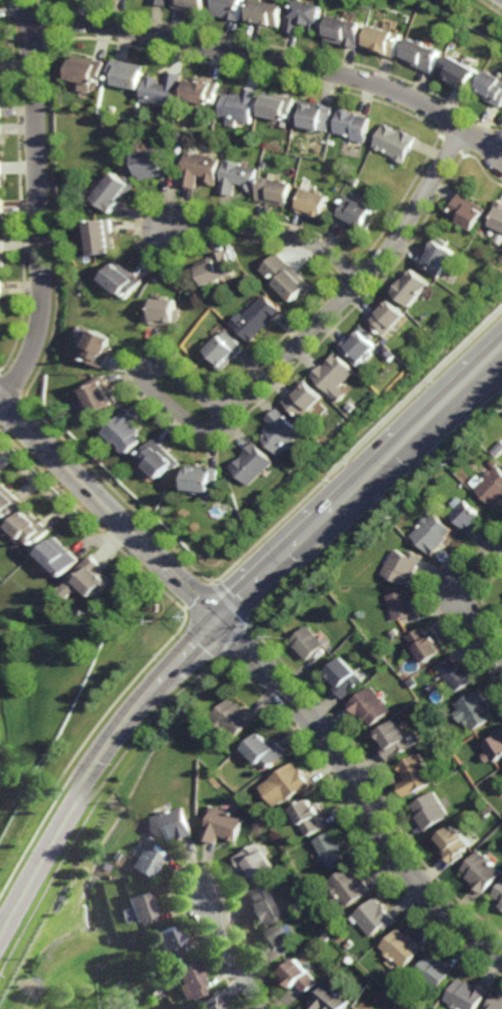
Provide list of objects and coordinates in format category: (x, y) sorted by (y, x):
building: (160, 2)
building: (190, 5)
building: (229, 9)
building: (266, 13)
building: (306, 17)
building: (347, 32)
building: (387, 42)
building: (425, 56)
road: (273, 60)
building: (86, 71)
building: (0, 73)
building: (462, 73)
building: (126, 75)
building: (492, 90)
building: (162, 91)
building: (200, 92)
building: (0, 104)
building: (238, 106)
building: (277, 107)
building: (112, 111)
building: (315, 117)
building: (353, 126)
building: (0, 132)
building: (179, 139)
building: (396, 144)
building: (153, 166)
building: (199, 171)
building: (237, 179)
building: (2, 180)
building: (355, 181)
building: (274, 193)
building: (115, 195)
road: (40, 205)
building: (313, 205)
building: (468, 213)
building: (355, 215)
building: (496, 217)
building: (2, 220)
road: (268, 232)
building: (103, 241)
building: (499, 241)
building: (437, 258)
building: (2, 260)
building: (213, 271)
building: (286, 279)
building: (245, 280)
building: (122, 284)
road: (357, 284)
building: (412, 291)
building: (1, 300)
building: (161, 312)
building: (385, 317)
building: (255, 318)
building: (98, 344)
building: (358, 345)
building: (222, 347)
building: (389, 355)
building: (333, 374)
road: (150, 386)
building: (101, 392)
building: (301, 398)
building: (350, 406)
building: (125, 429)
building: (279, 430)
building: (498, 449)
building: (156, 456)
building: (251, 463)
building: (493, 463)
building: (200, 477)
building: (461, 484)
building: (220, 487)
building: (492, 487)
building: (9, 500)
road: (62, 502)
road: (108, 508)
building: (465, 515)
building: (32, 526)
building: (433, 532)
building: (60, 555)
building: (403, 565)
building: (88, 579)
road: (465, 602)
building: (403, 604)
road: (220, 613)
traffic signals: (216, 618)
building: (306, 643)
building: (426, 646)
building: (457, 674)
building: (343, 677)
building: (414, 681)
building: (370, 706)
building: (475, 710)
building: (232, 718)
building: (392, 741)
building: (494, 747)
building: (264, 751)
building: (203, 769)
building: (414, 776)
building: (286, 786)
road: (359, 787)
building: (114, 806)
building: (430, 811)
building: (486, 814)
building: (308, 818)
building: (173, 827)
building: (224, 827)
building: (454, 845)
building: (332, 851)
building: (143, 863)
building: (254, 864)
building: (481, 873)
building: (350, 890)
building: (498, 896)
building: (138, 908)
building: (259, 909)
building: (376, 919)
building: (327, 939)
building: (163, 945)
building: (275, 946)
building: (351, 947)
building: (403, 949)
road: (226, 954)
building: (436, 972)
building: (299, 976)
building: (184, 981)
building: (467, 994)
building: (329, 997)
building: (203, 1001)
building: (496, 1002)
building: (357, 1008)
building: (359, 1008)

